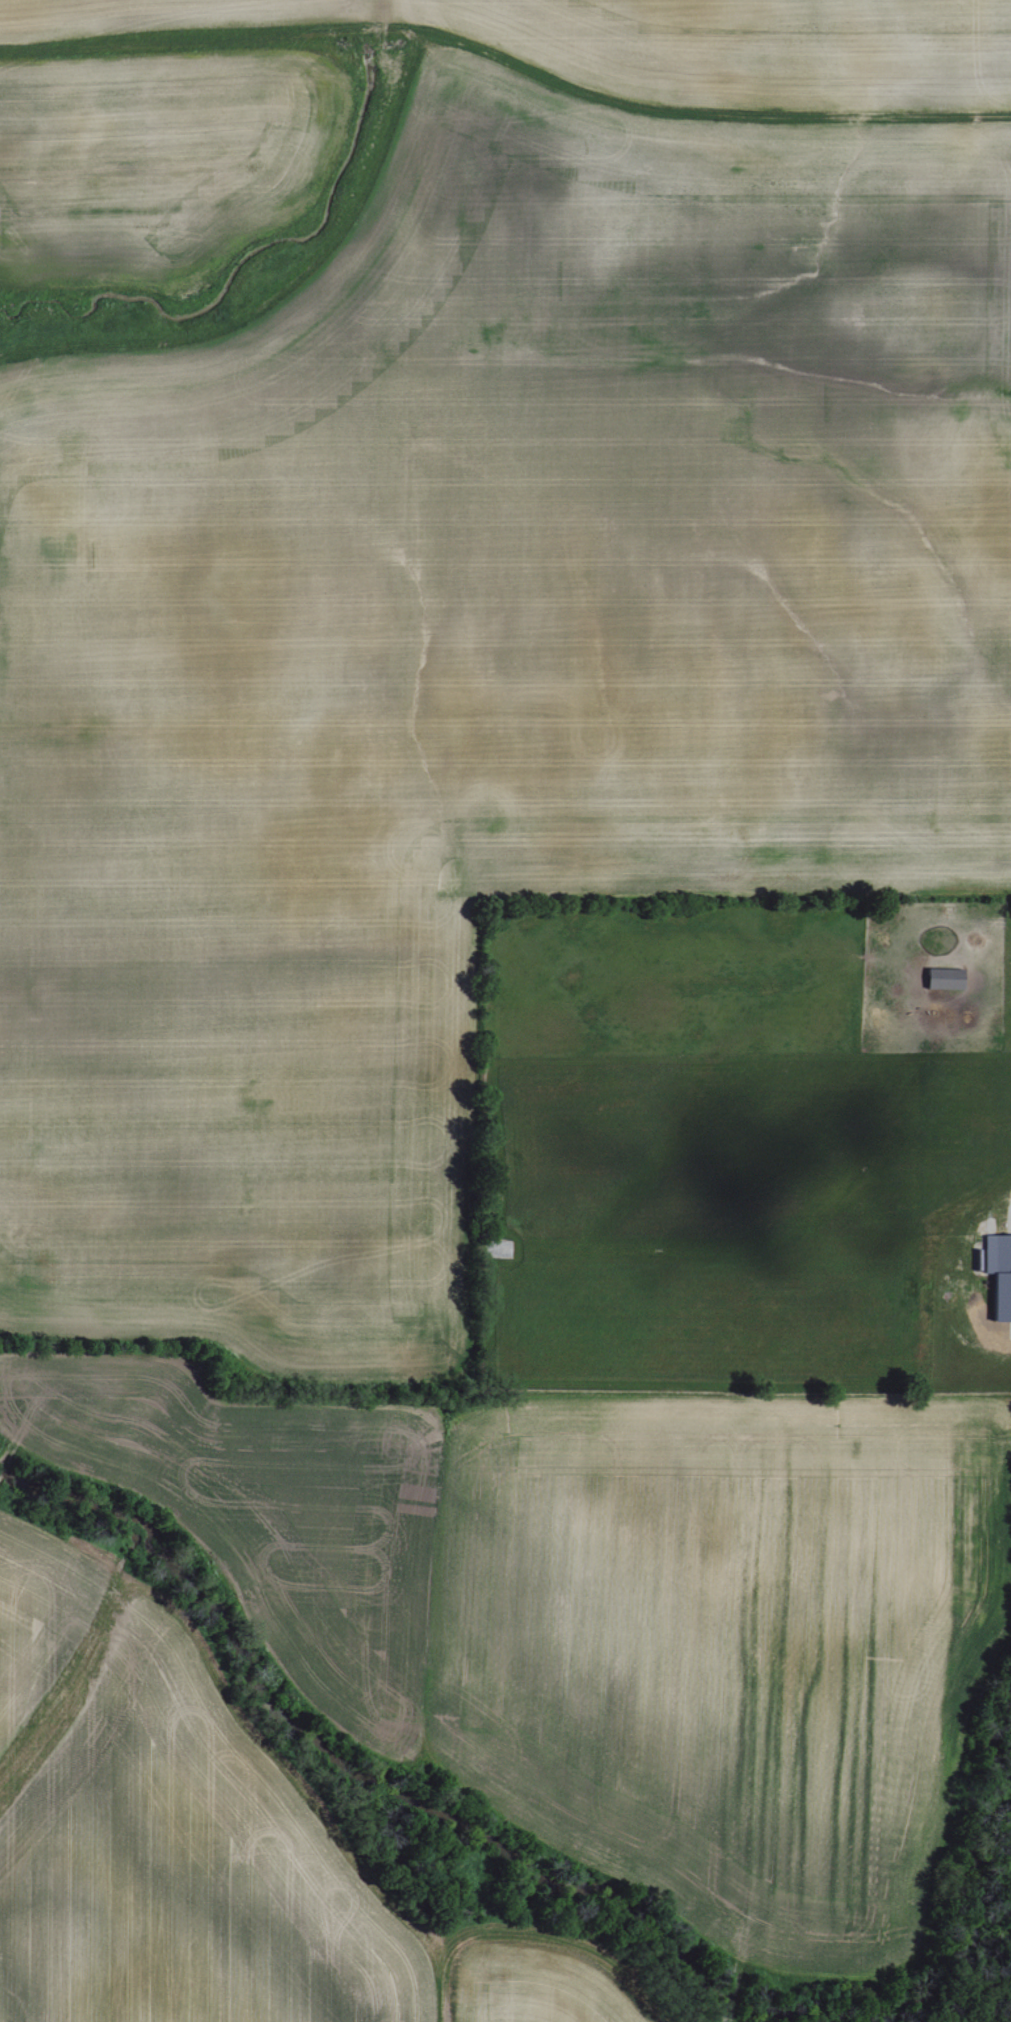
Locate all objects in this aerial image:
building: (947, 978)
road: (1010, 1208)
building: (1000, 1273)

